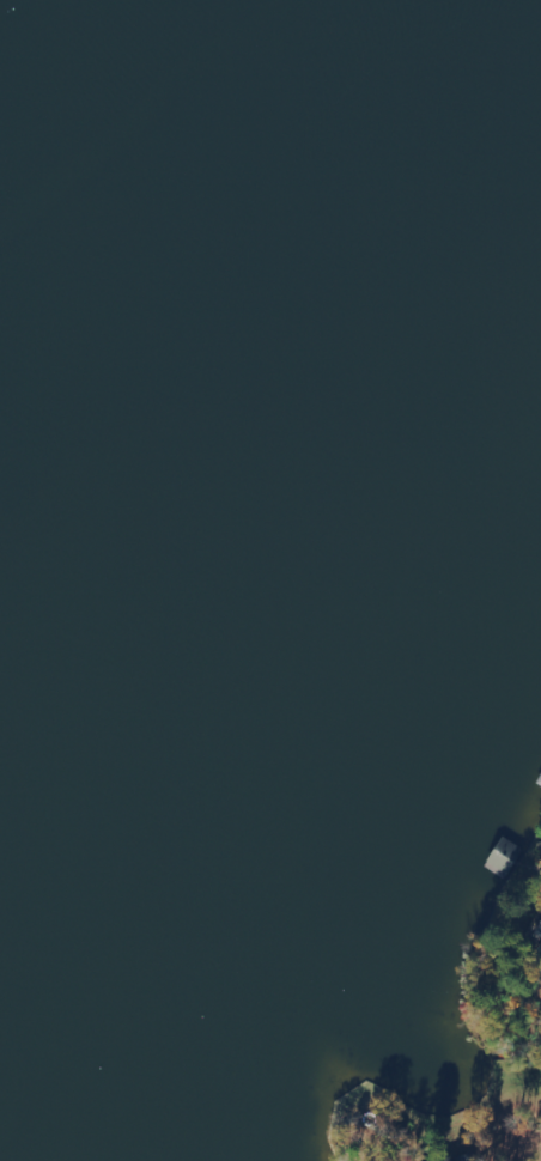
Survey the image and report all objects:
building: (539, 937)
building: (540, 954)

